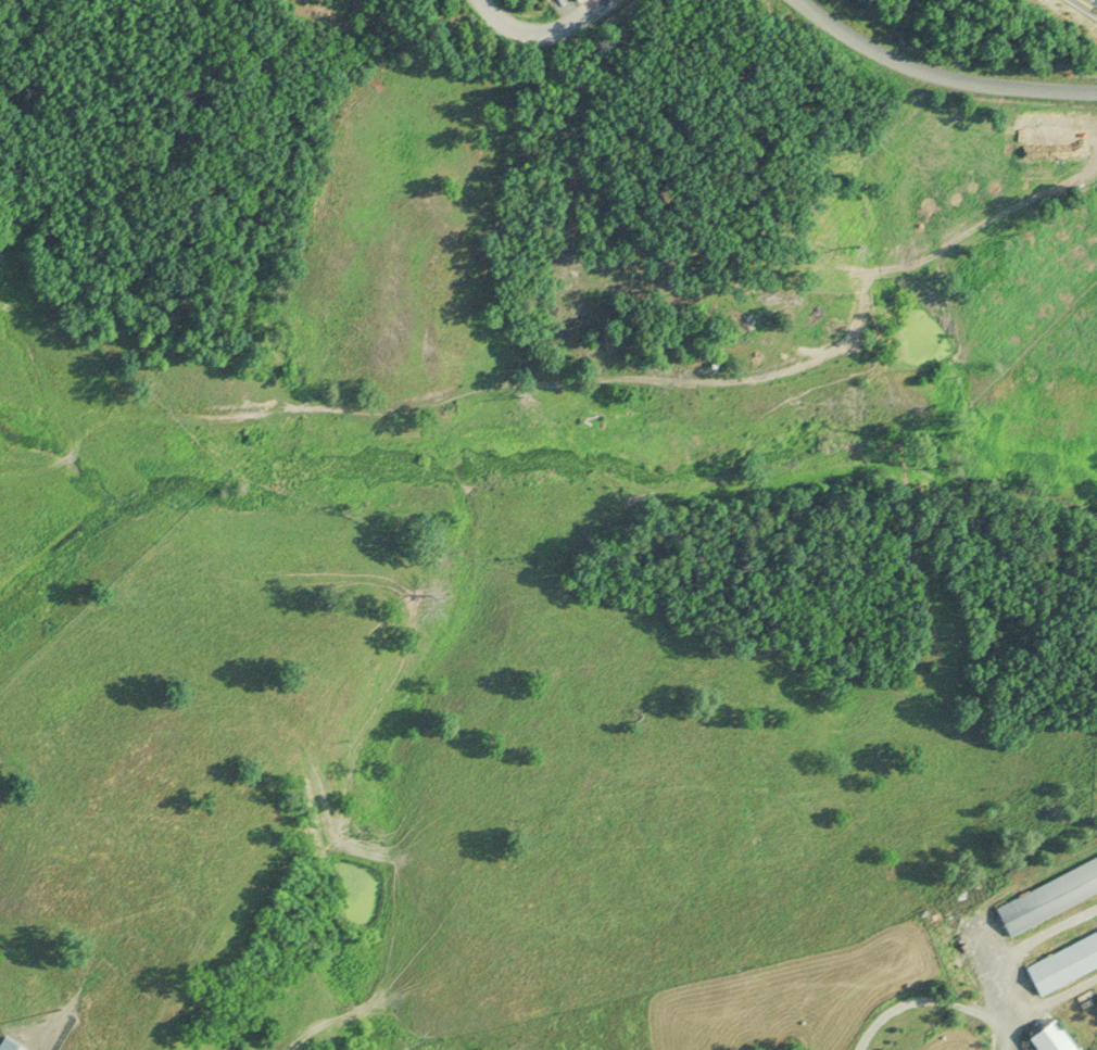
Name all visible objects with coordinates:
building: (580, 0)
road: (1092, 2)
road: (543, 20)
road: (945, 72)
building: (1046, 891)
building: (1061, 958)
road: (932, 996)
building: (1045, 1035)
building: (9, 1045)

